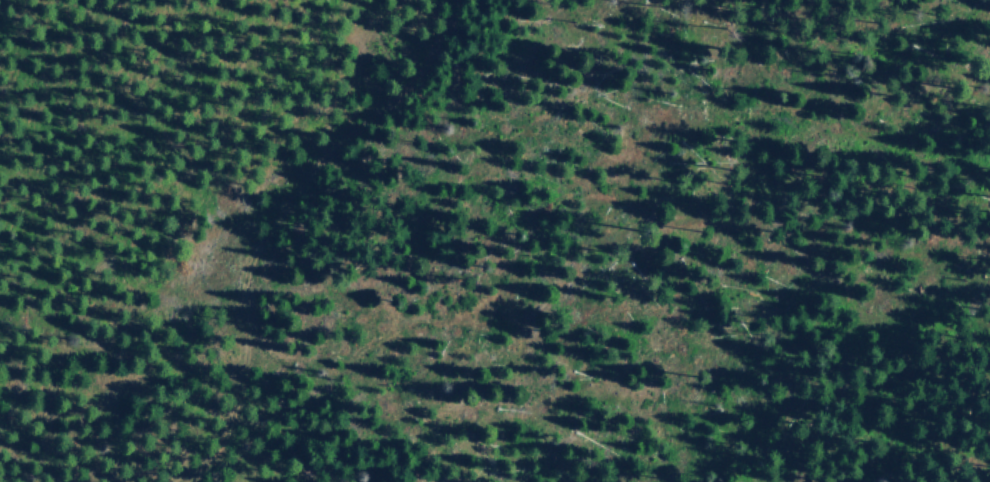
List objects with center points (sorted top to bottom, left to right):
road: (279, 223)

